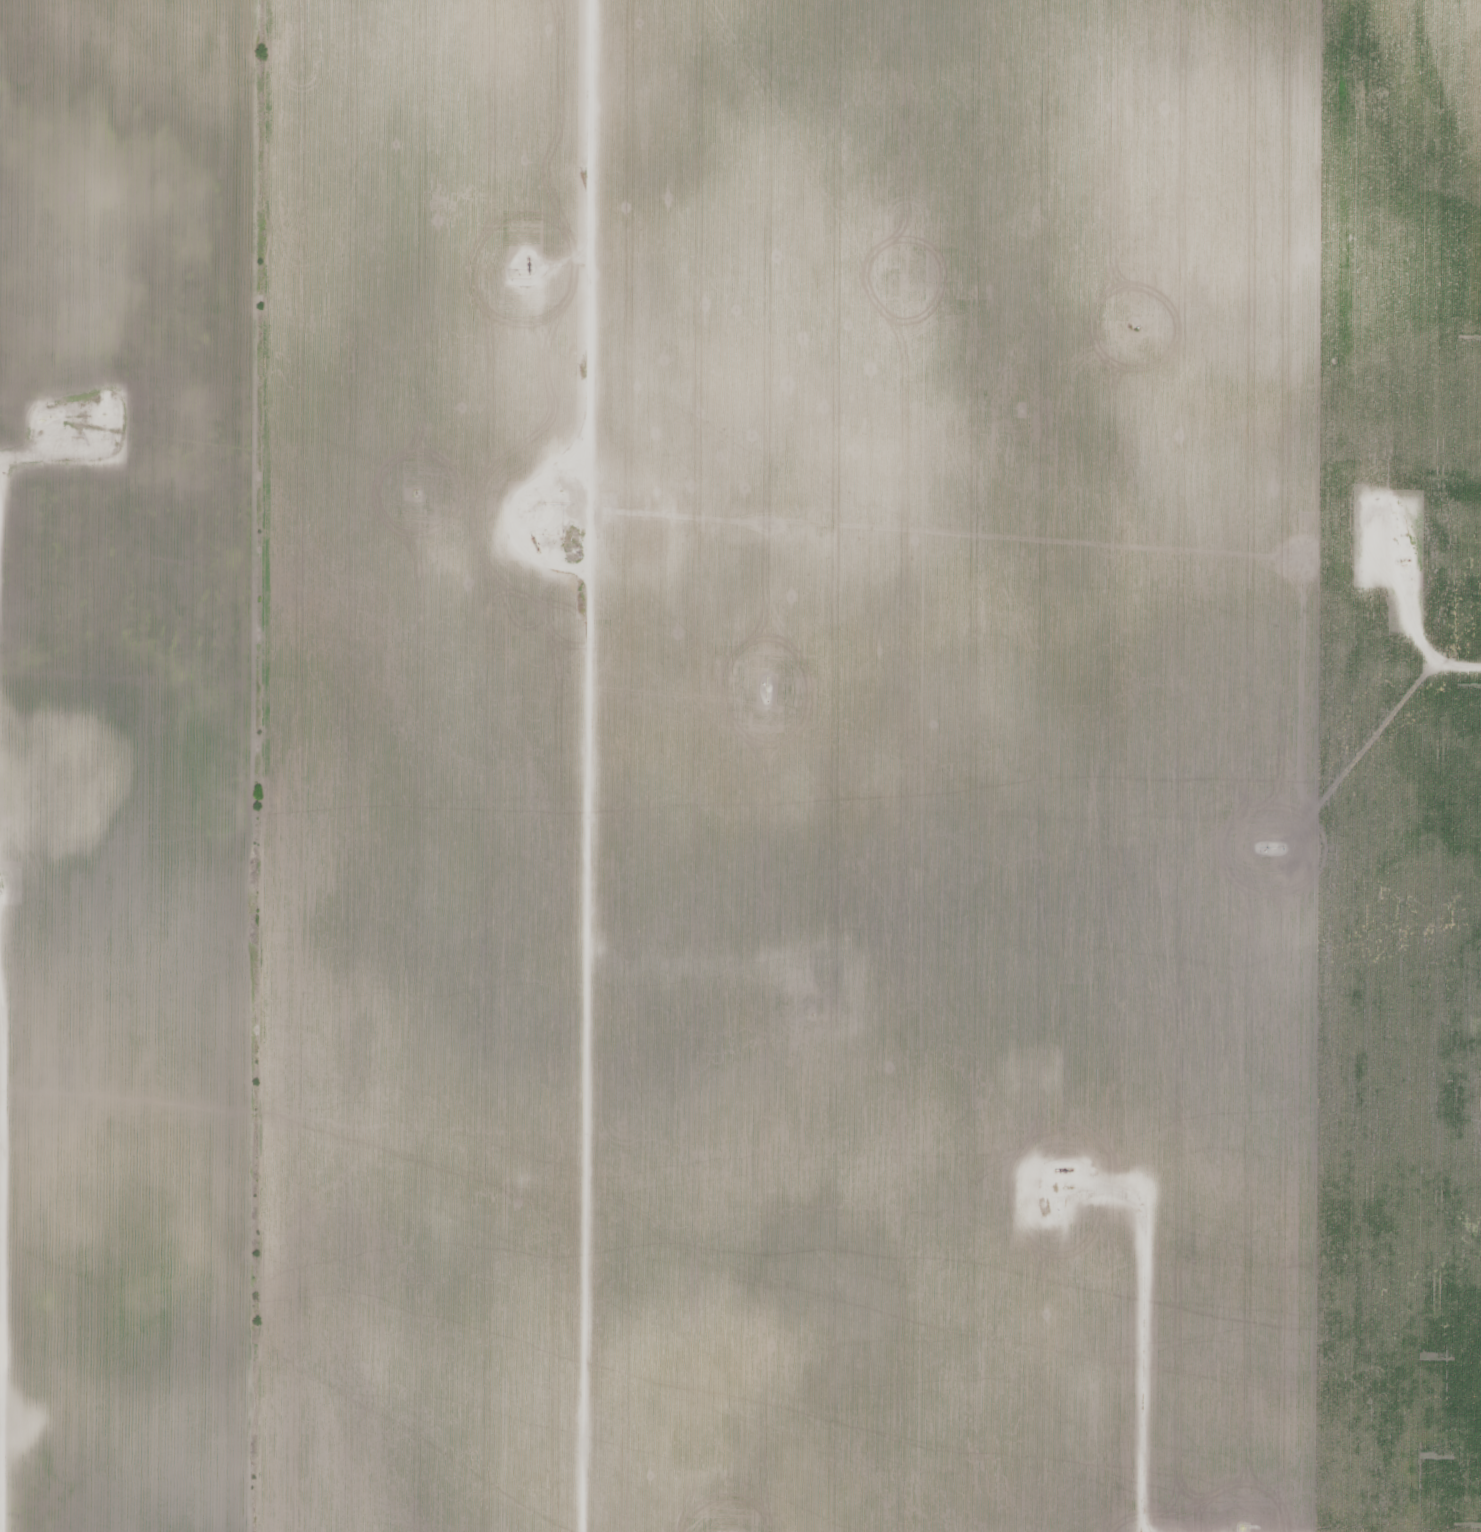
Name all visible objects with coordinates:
road: (1407, 617)
road: (582, 765)
road: (628, 1235)
road: (1137, 1319)
road: (3, 1390)

